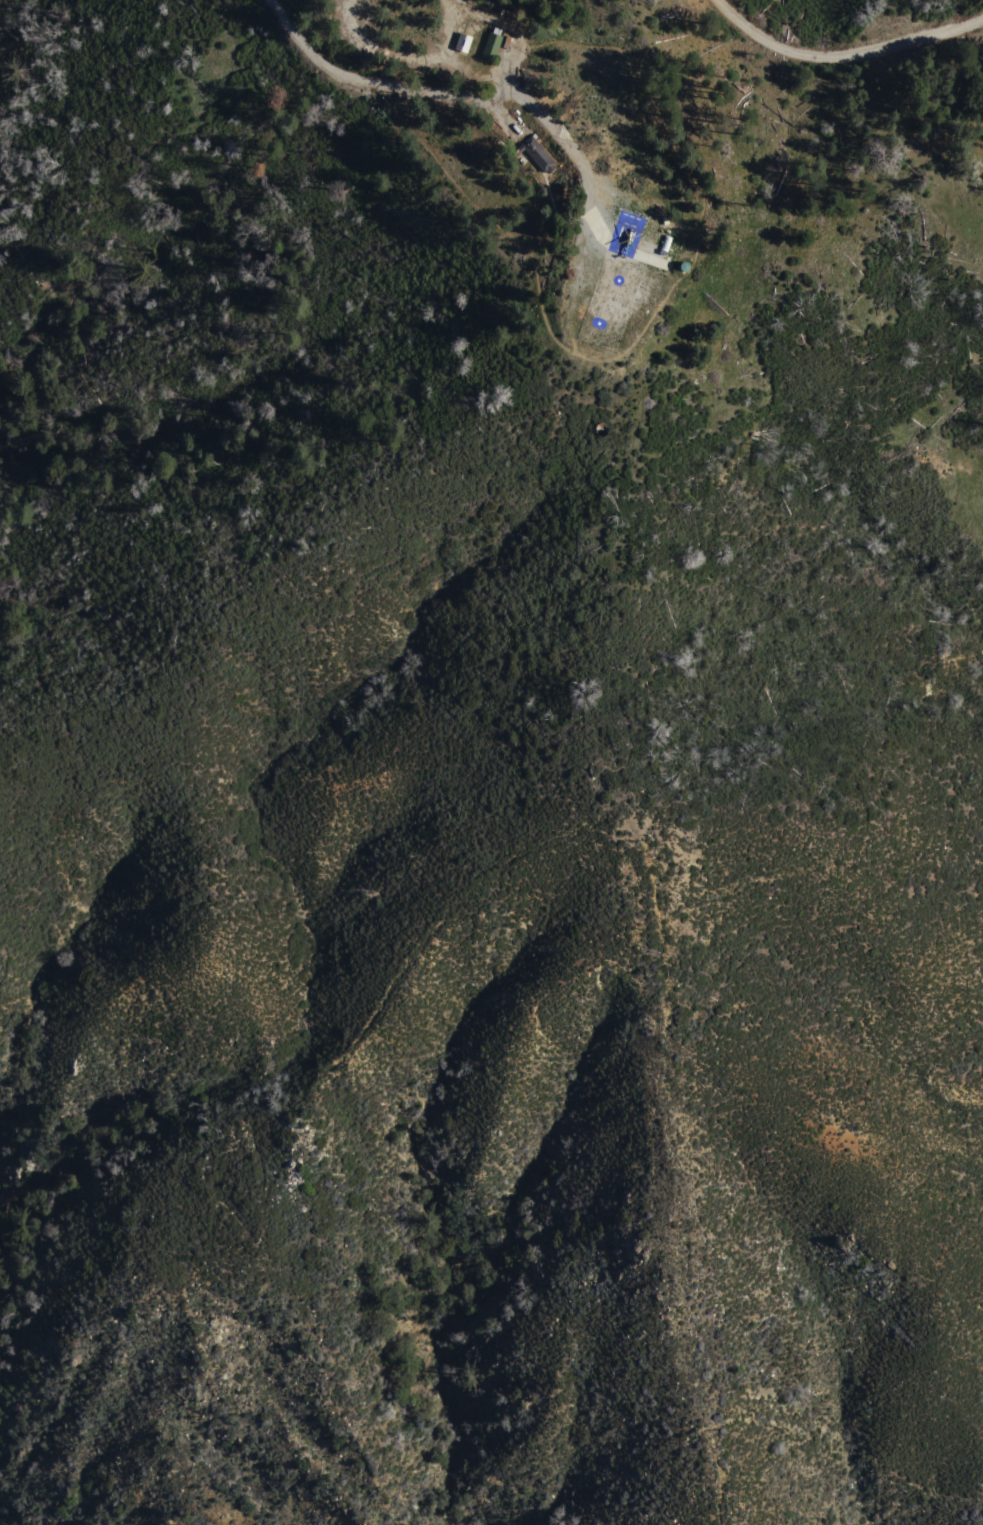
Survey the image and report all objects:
building: (463, 43)
building: (491, 46)
road: (842, 56)
road: (453, 97)
building: (537, 153)
airport: (537, 156)
helipad: (640, 237)
building: (665, 244)
building: (683, 268)
storage tank: (683, 268)
building: (602, 431)
storage tank: (602, 431)

